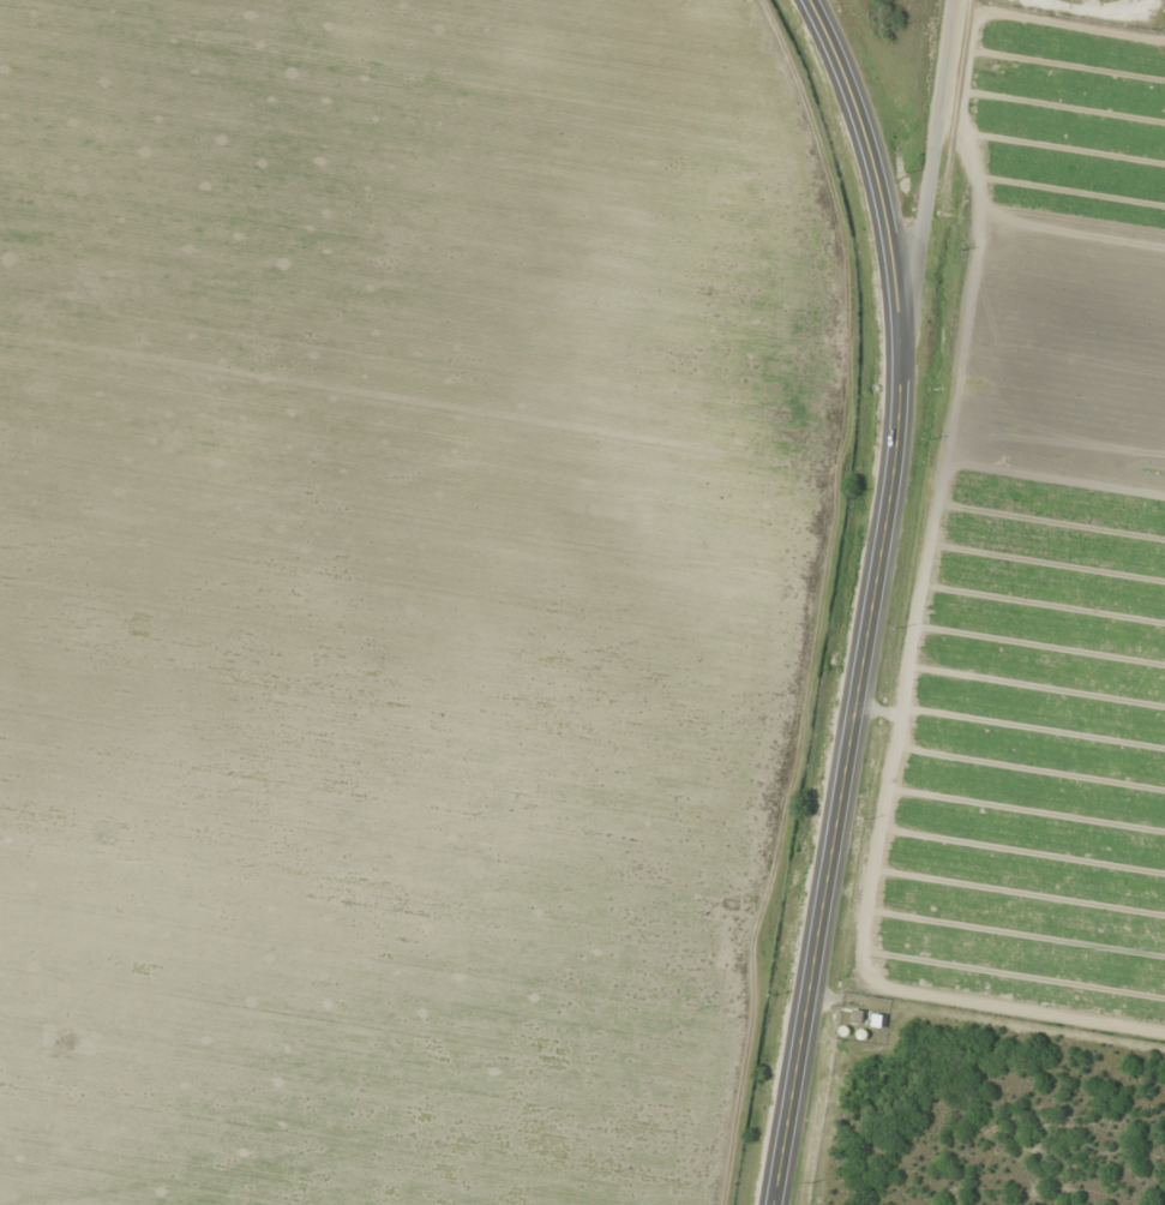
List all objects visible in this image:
building: (1105, 1)
road: (927, 174)
road: (871, 598)

